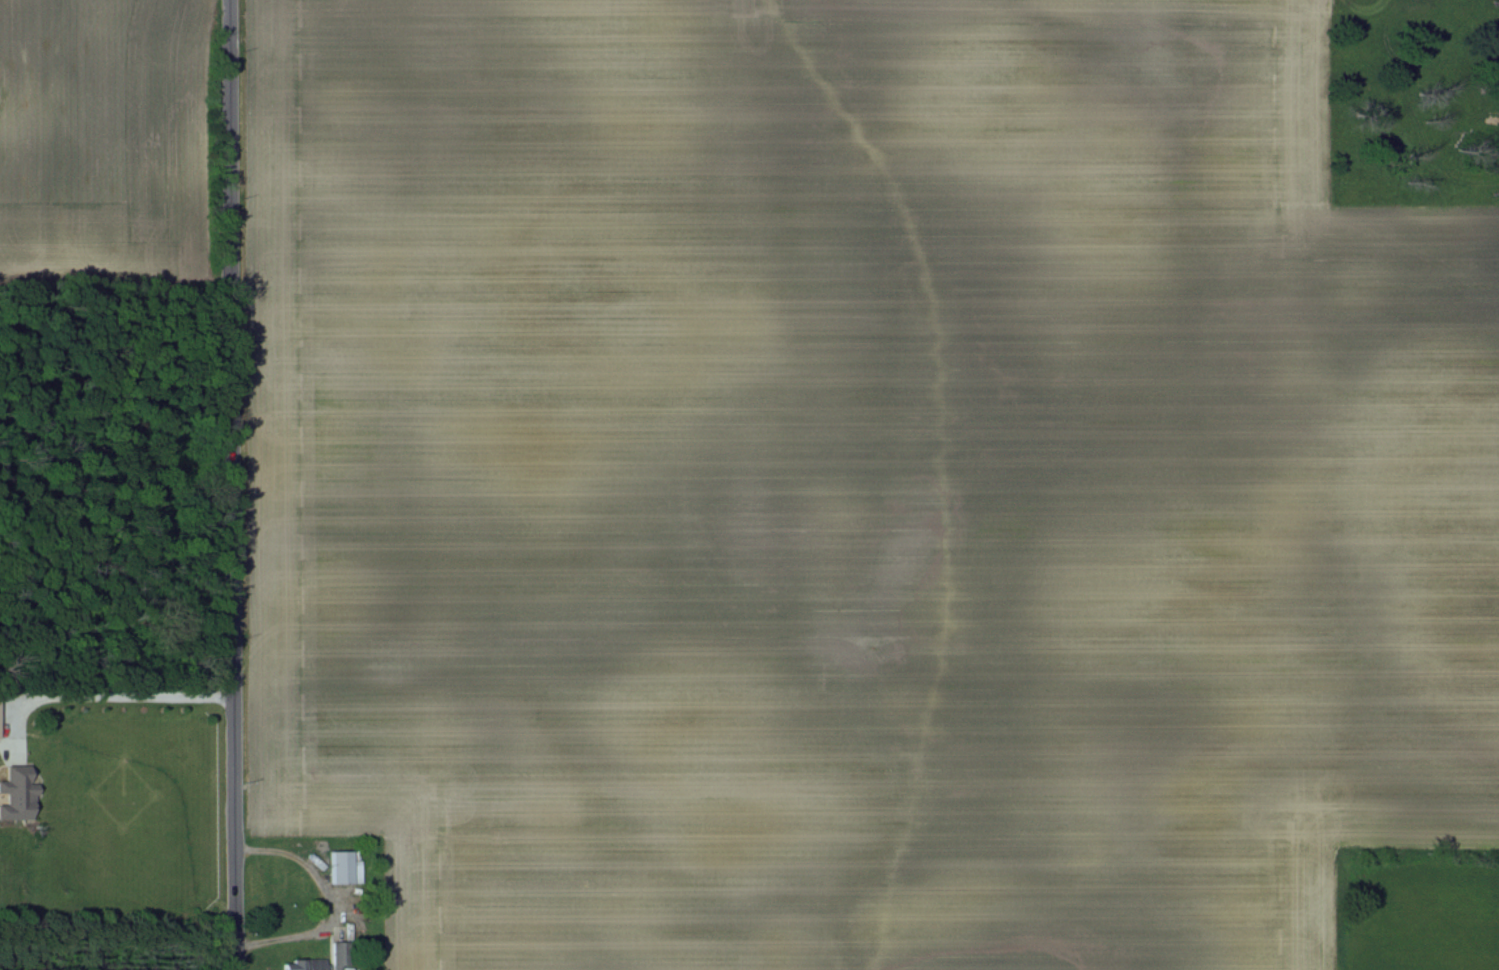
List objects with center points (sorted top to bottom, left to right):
road: (233, 485)
road: (111, 695)
building: (0, 736)
building: (18, 792)
building: (345, 866)
road: (324, 897)
building: (305, 964)

